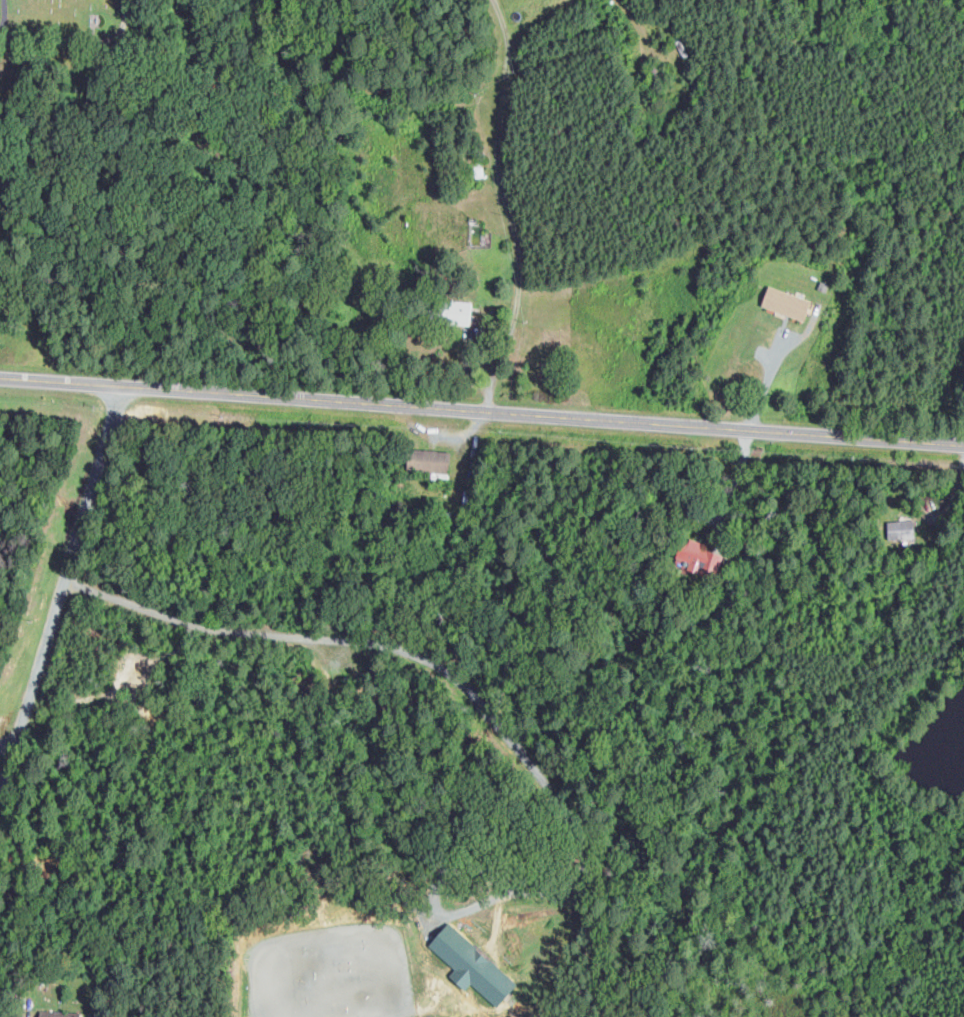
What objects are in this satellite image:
road: (5, 16)
road: (636, 22)
road: (505, 31)
road: (79, 40)
building: (681, 48)
building: (680, 69)
building: (698, 79)
building: (472, 165)
road: (504, 193)
building: (473, 219)
building: (823, 286)
building: (786, 302)
building: (449, 312)
road: (769, 378)
road: (481, 410)
building: (428, 461)
road: (736, 479)
road: (957, 499)
building: (900, 529)
building: (699, 558)
road: (57, 581)
road: (486, 697)
building: (471, 965)
building: (58, 1014)

